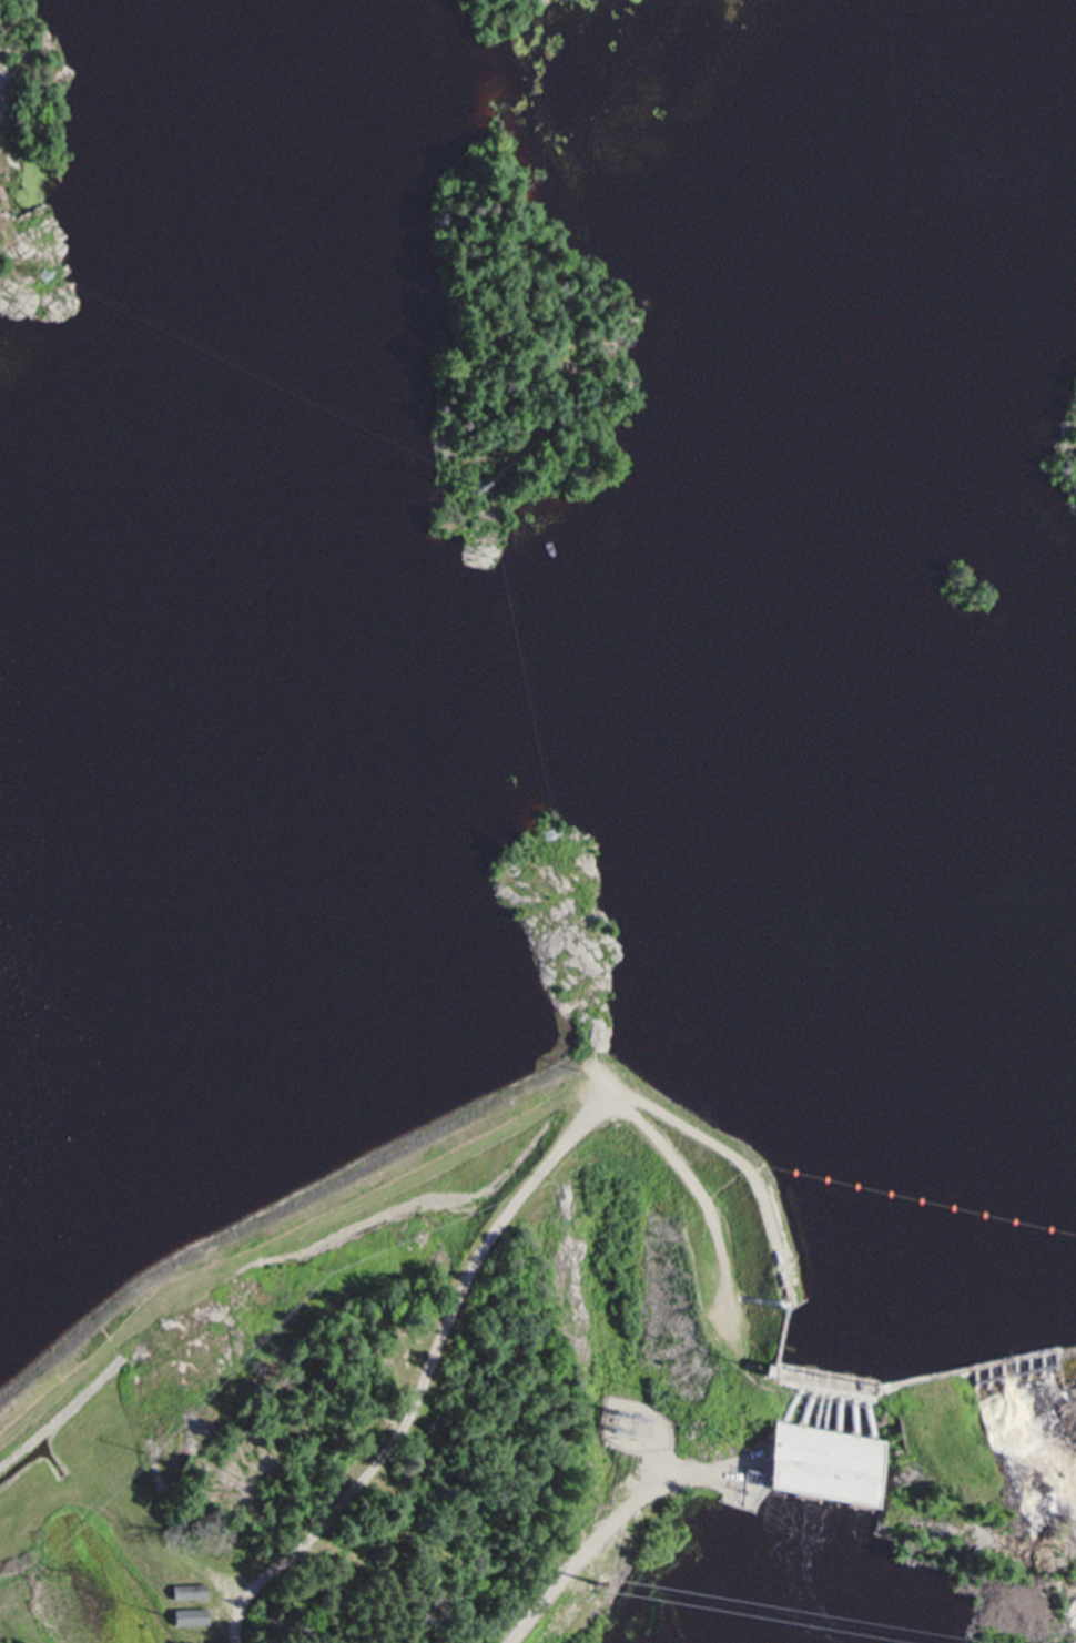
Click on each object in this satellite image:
power tower: (39, 280)
power tower: (471, 489)
river: (803, 714)
power tower: (551, 835)
power tower: (577, 1069)
road: (741, 1162)
power tower: (552, 1183)
road: (484, 1248)
power tower: (327, 1266)
road: (784, 1331)
road: (748, 1353)
building: (784, 1363)
dam: (928, 1368)
road: (813, 1393)
power tower: (608, 1418)
power tower: (620, 1418)
power substation: (638, 1424)
river: (828, 1433)
power tower: (620, 1438)
power tower: (149, 1452)
road: (748, 1457)
building: (833, 1465)
power substation: (751, 1483)
road: (605, 1532)
river: (804, 1570)
power tower: (598, 1584)
building: (187, 1589)
building: (186, 1612)

